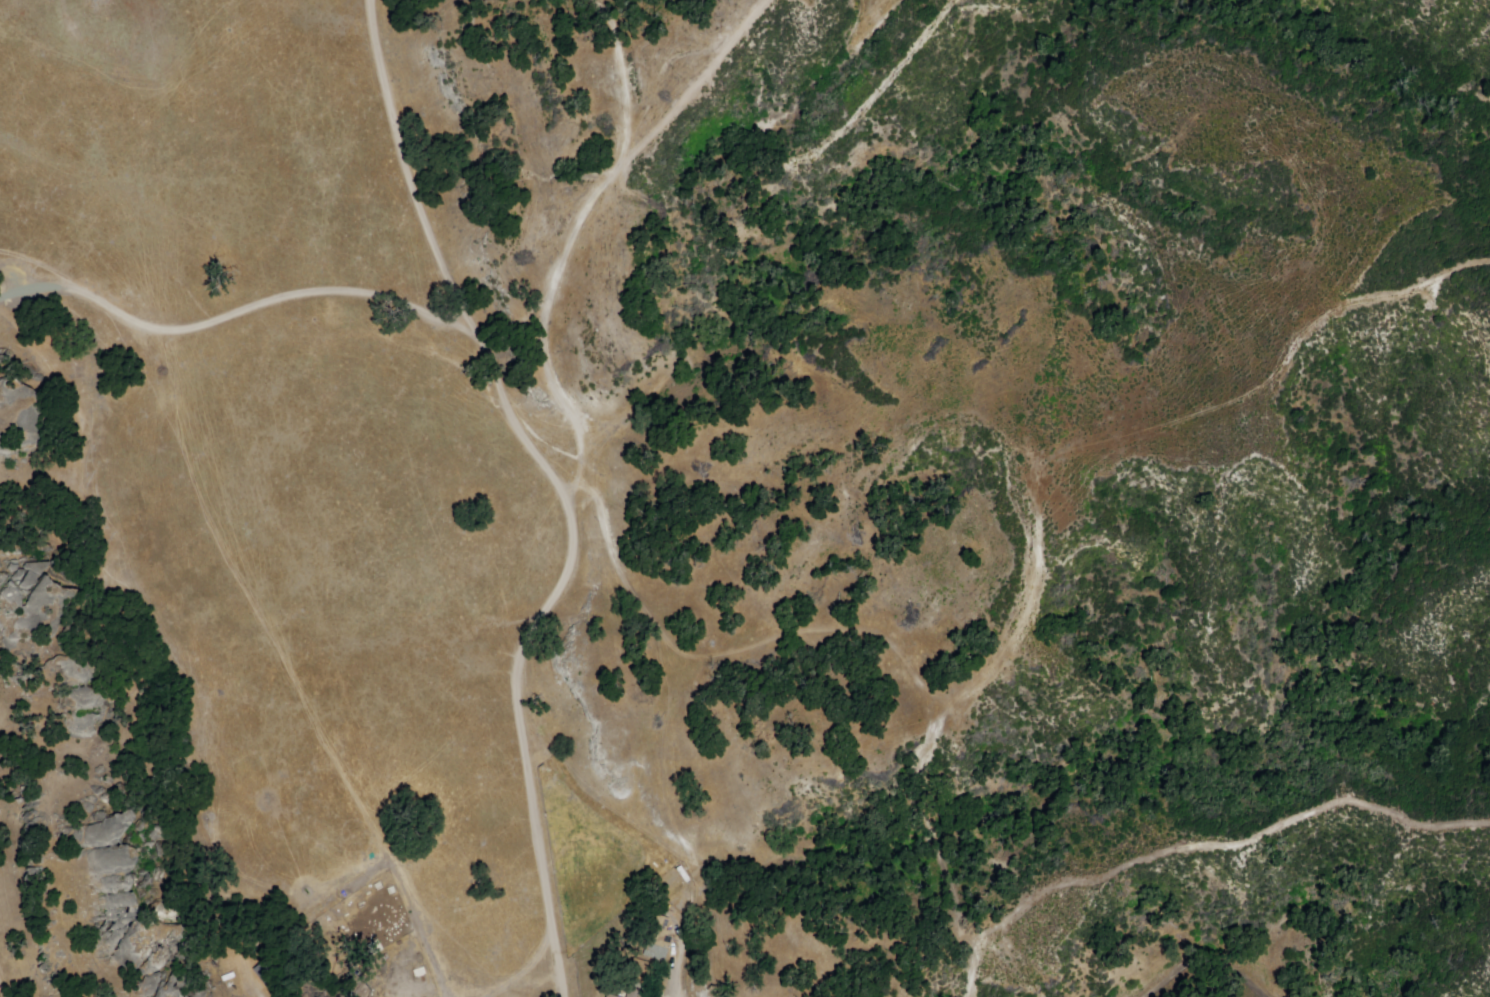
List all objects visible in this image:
road: (231, 317)
road: (558, 486)
building: (654, 947)
building: (645, 967)
building: (635, 993)
building: (699, 994)
building: (609, 996)

